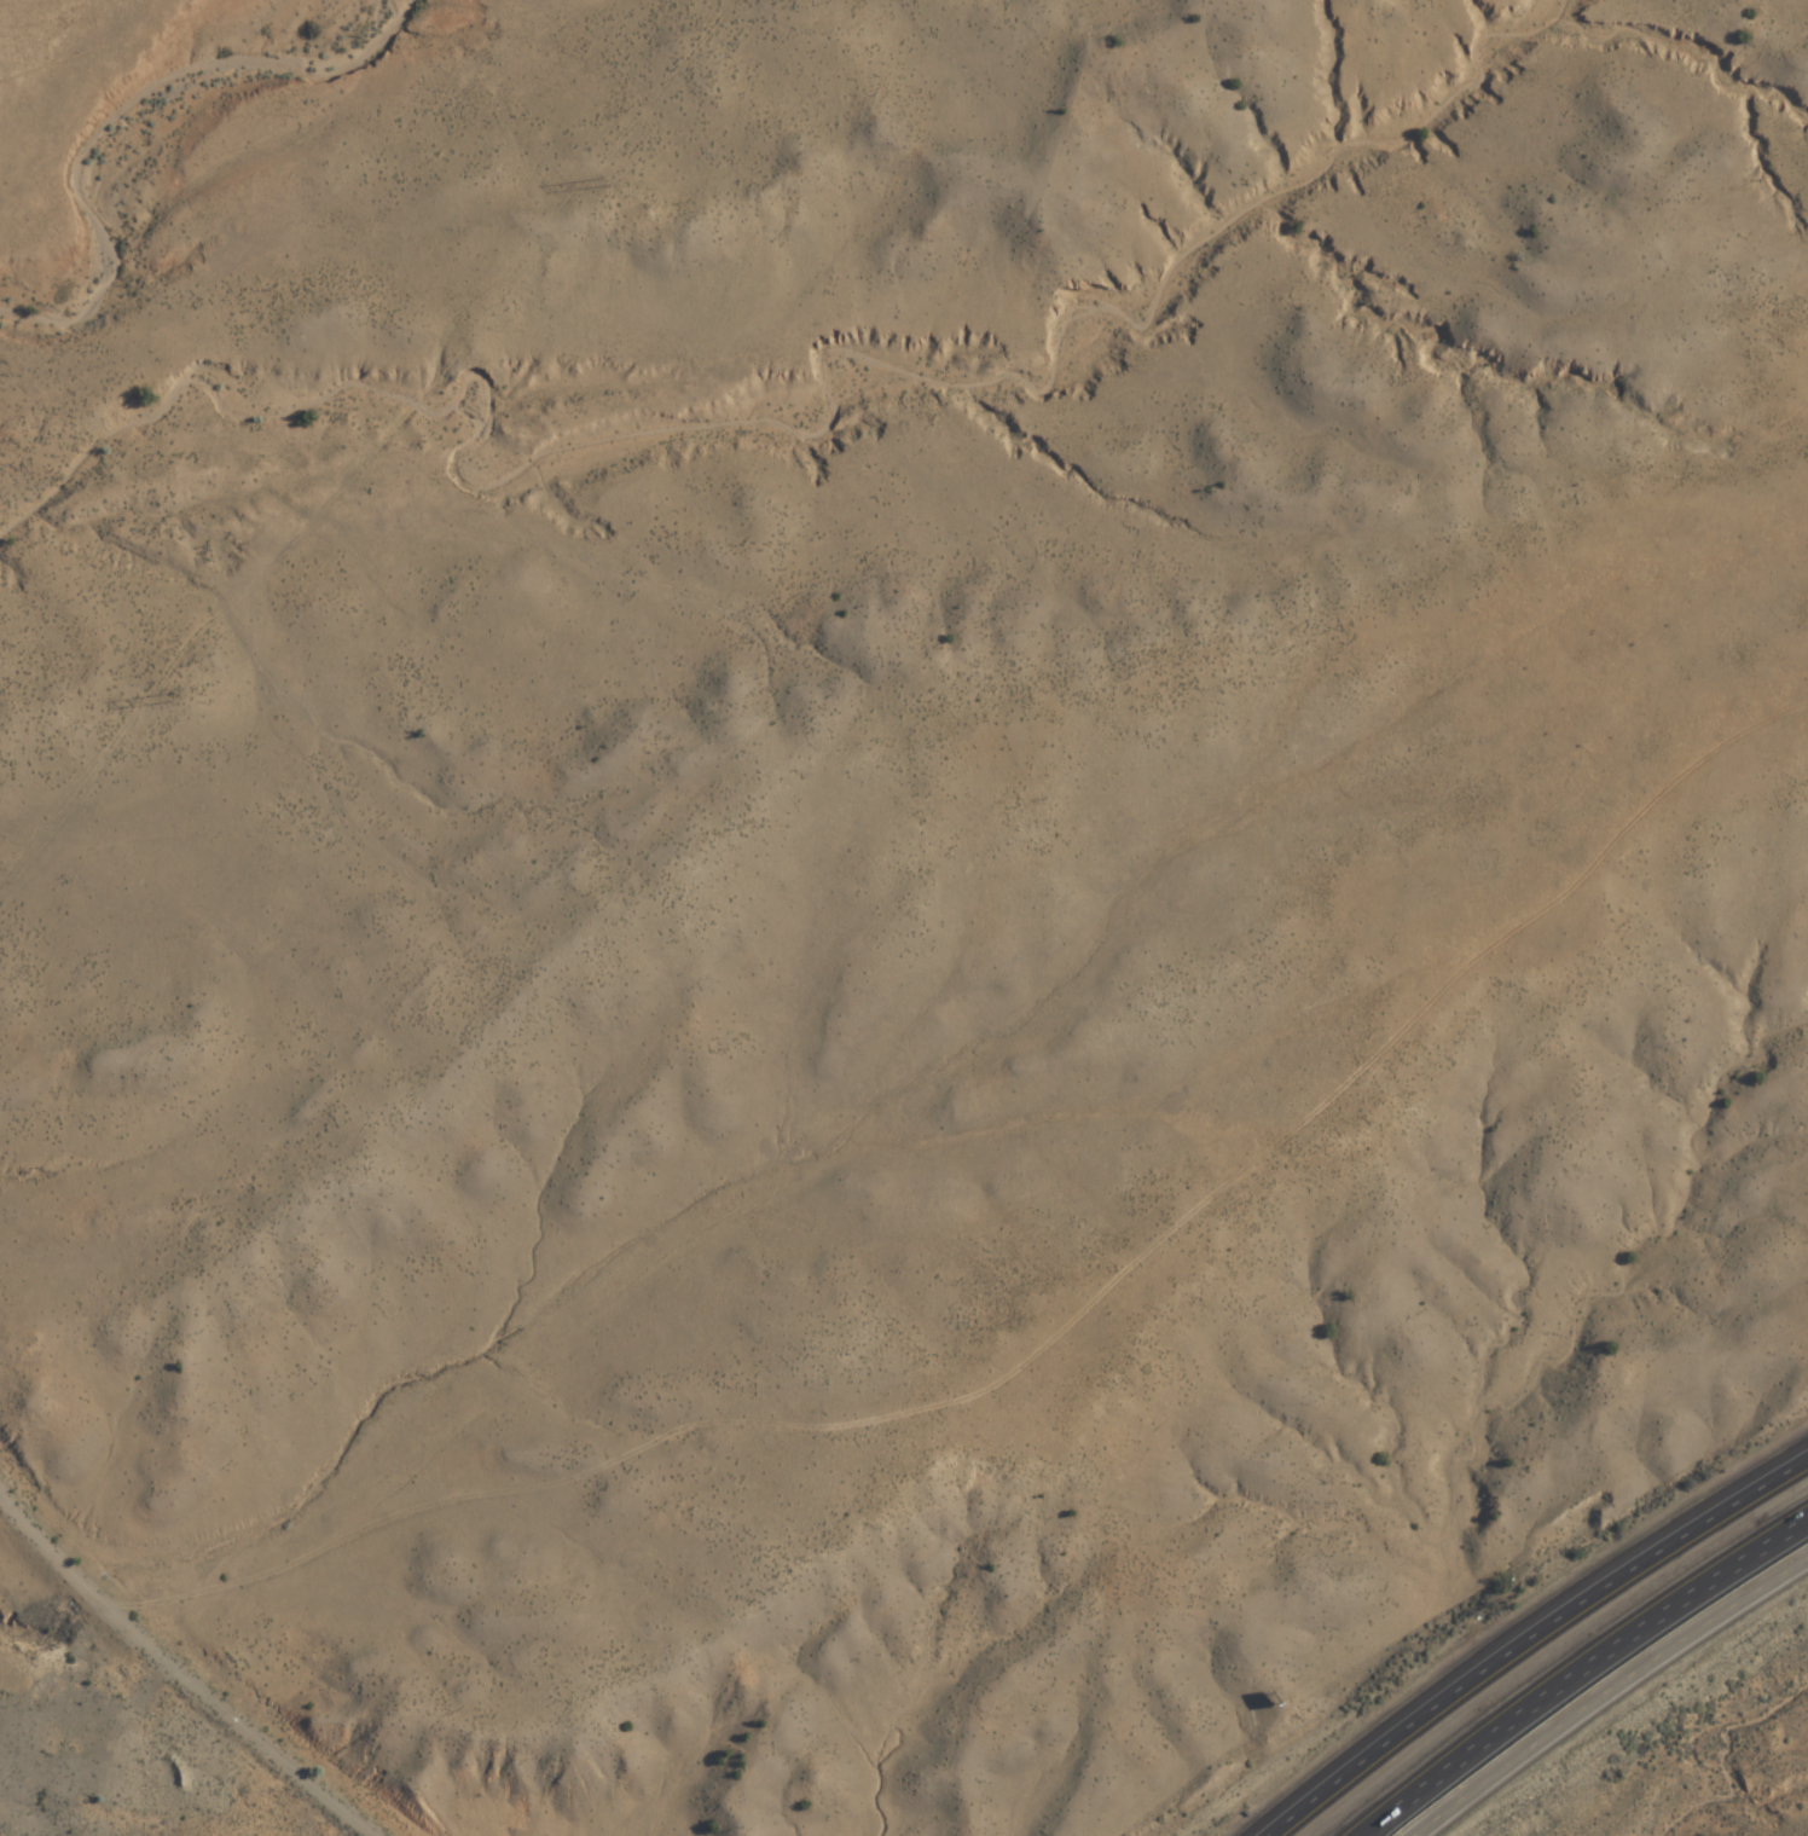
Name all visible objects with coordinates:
road: (1543, 1646)
road: (184, 1672)
road: (1590, 1679)
road: (1607, 1691)

